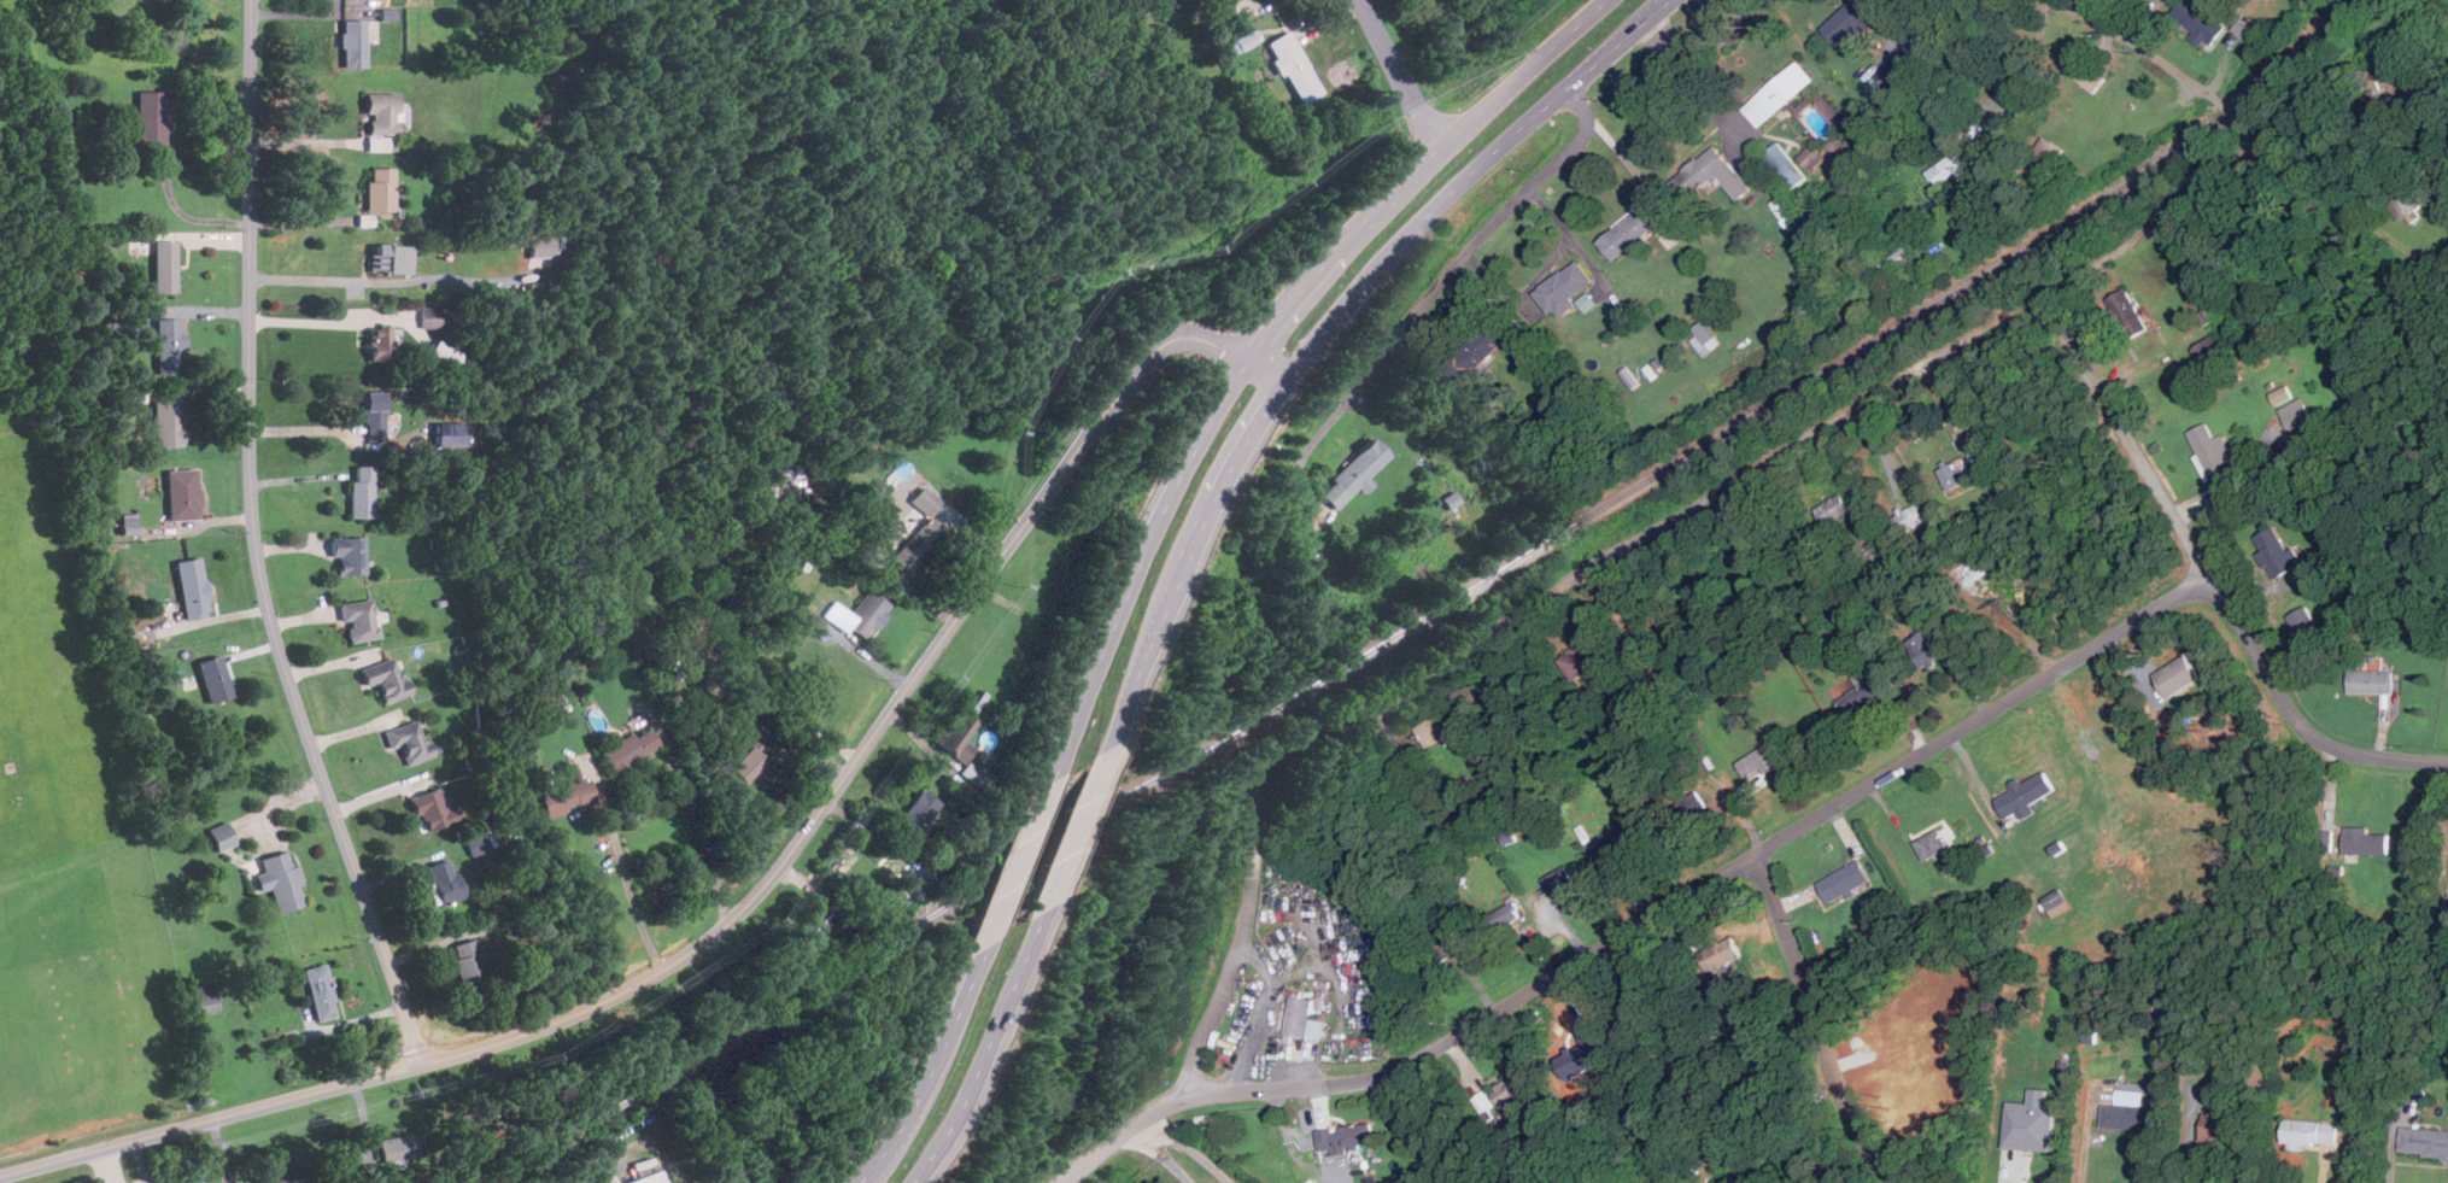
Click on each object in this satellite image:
building: (2197, 19)
building: (1850, 21)
building: (1246, 39)
building: (352, 43)
road: (2166, 66)
building: (1293, 68)
road: (1398, 74)
building: (2089, 75)
building: (1882, 77)
road: (1703, 87)
building: (1778, 93)
building: (2379, 110)
building: (1831, 111)
building: (381, 113)
building: (151, 118)
road: (304, 140)
building: (376, 144)
building: (2049, 150)
building: (55, 153)
building: (1811, 157)
building: (1785, 165)
building: (1948, 168)
building: (1710, 174)
road: (2320, 180)
road: (165, 181)
building: (379, 189)
road: (2062, 194)
building: (2408, 201)
building: (1632, 230)
road: (1570, 238)
building: (541, 247)
building: (391, 258)
building: (164, 265)
road: (310, 277)
building: (1563, 288)
road: (1433, 289)
building: (2127, 312)
building: (428, 318)
road: (326, 320)
road: (1324, 328)
building: (1704, 335)
building: (1486, 341)
road: (1258, 344)
building: (380, 345)
building: (169, 346)
building: (2209, 349)
building: (444, 353)
building: (2280, 396)
building: (373, 408)
building: (2297, 418)
building: (166, 421)
building: (450, 434)
building: (2212, 451)
building: (1354, 474)
building: (1955, 474)
building: (361, 492)
building: (182, 494)
road: (1703, 498)
building: (1448, 499)
building: (1833, 510)
building: (1911, 516)
building: (919, 534)
road: (258, 544)
building: (2274, 551)
building: (349, 555)
road: (2208, 573)
building: (192, 587)
building: (714, 596)
railway: (1434, 609)
building: (865, 613)
building: (358, 620)
building: (2302, 622)
building: (1921, 650)
building: (1587, 656)
building: (2175, 675)
building: (385, 678)
building: (213, 679)
building: (2368, 681)
building: (1863, 692)
building: (1441, 725)
building: (955, 733)
building: (408, 739)
building: (627, 749)
building: (1763, 756)
building: (746, 763)
building: (968, 772)
road: (1728, 787)
building: (564, 795)
building: (2025, 795)
building: (432, 810)
building: (1682, 810)
building: (914, 814)
road: (696, 820)
road: (1076, 830)
building: (221, 836)
building: (1616, 841)
building: (2364, 841)
building: (476, 843)
building: (1929, 843)
road: (1018, 862)
road: (622, 872)
building: (280, 880)
building: (444, 880)
building: (1560, 880)
building: (920, 882)
building: (1841, 882)
road: (757, 896)
building: (2054, 898)
building: (1505, 916)
road: (1645, 916)
building: (818, 921)
building: (1443, 944)
building: (1720, 954)
building: (467, 962)
building: (318, 991)
building: (201, 997)
building: (1645, 1001)
road: (1263, 1013)
building: (1302, 1018)
road: (1816, 1023)
road: (984, 1049)
building: (1586, 1053)
road: (932, 1066)
building: (2130, 1097)
building: (1511, 1100)
building: (2130, 1117)
building: (2031, 1123)
road: (1439, 1125)
building: (2218, 1126)
building: (2309, 1132)
building: (1346, 1136)
building: (2423, 1141)
building: (397, 1148)
road: (1187, 1149)
road: (1159, 1154)
building: (287, 1175)
building: (648, 1178)
building: (187, 1182)

